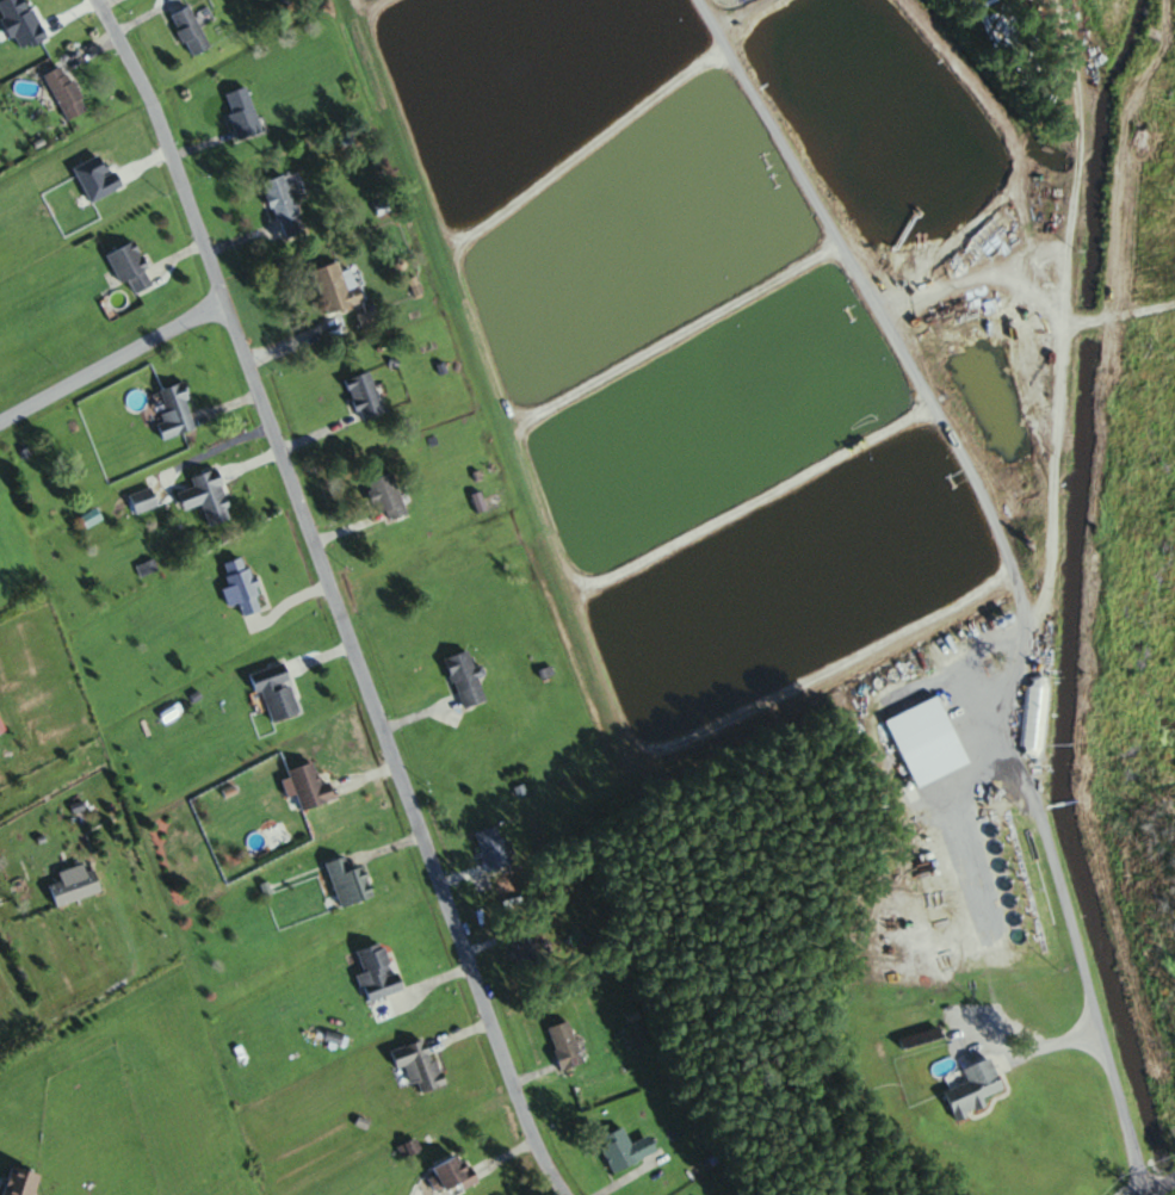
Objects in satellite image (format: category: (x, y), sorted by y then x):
road: (101, 1)
road: (119, 29)
building: (191, 31)
building: (66, 92)
building: (242, 112)
road: (202, 145)
building: (285, 205)
road: (236, 242)
road: (178, 255)
building: (131, 267)
building: (338, 289)
building: (367, 317)
road: (280, 343)
road: (112, 358)
building: (365, 396)
road: (229, 405)
building: (177, 413)
road: (289, 447)
road: (221, 448)
building: (209, 497)
building: (388, 497)
building: (142, 501)
road: (347, 530)
building: (242, 587)
road: (333, 596)
road: (286, 601)
road: (322, 656)
building: (466, 680)
building: (277, 692)
road: (415, 717)
building: (1, 727)
building: (927, 742)
road: (367, 774)
building: (310, 787)
road: (386, 847)
building: (491, 849)
road: (458, 875)
building: (350, 881)
building: (75, 885)
road: (486, 943)
building: (522, 949)
building: (378, 972)
road: (1081, 977)
road: (420, 989)
road: (107, 993)
building: (637, 1030)
road: (459, 1034)
building: (921, 1039)
road: (1051, 1045)
building: (565, 1046)
building: (419, 1065)
road: (528, 1076)
building: (973, 1089)
road: (466, 1117)
building: (625, 1150)
road: (506, 1153)
building: (454, 1174)
road: (627, 1176)
building: (24, 1181)
road: (1168, 1190)

